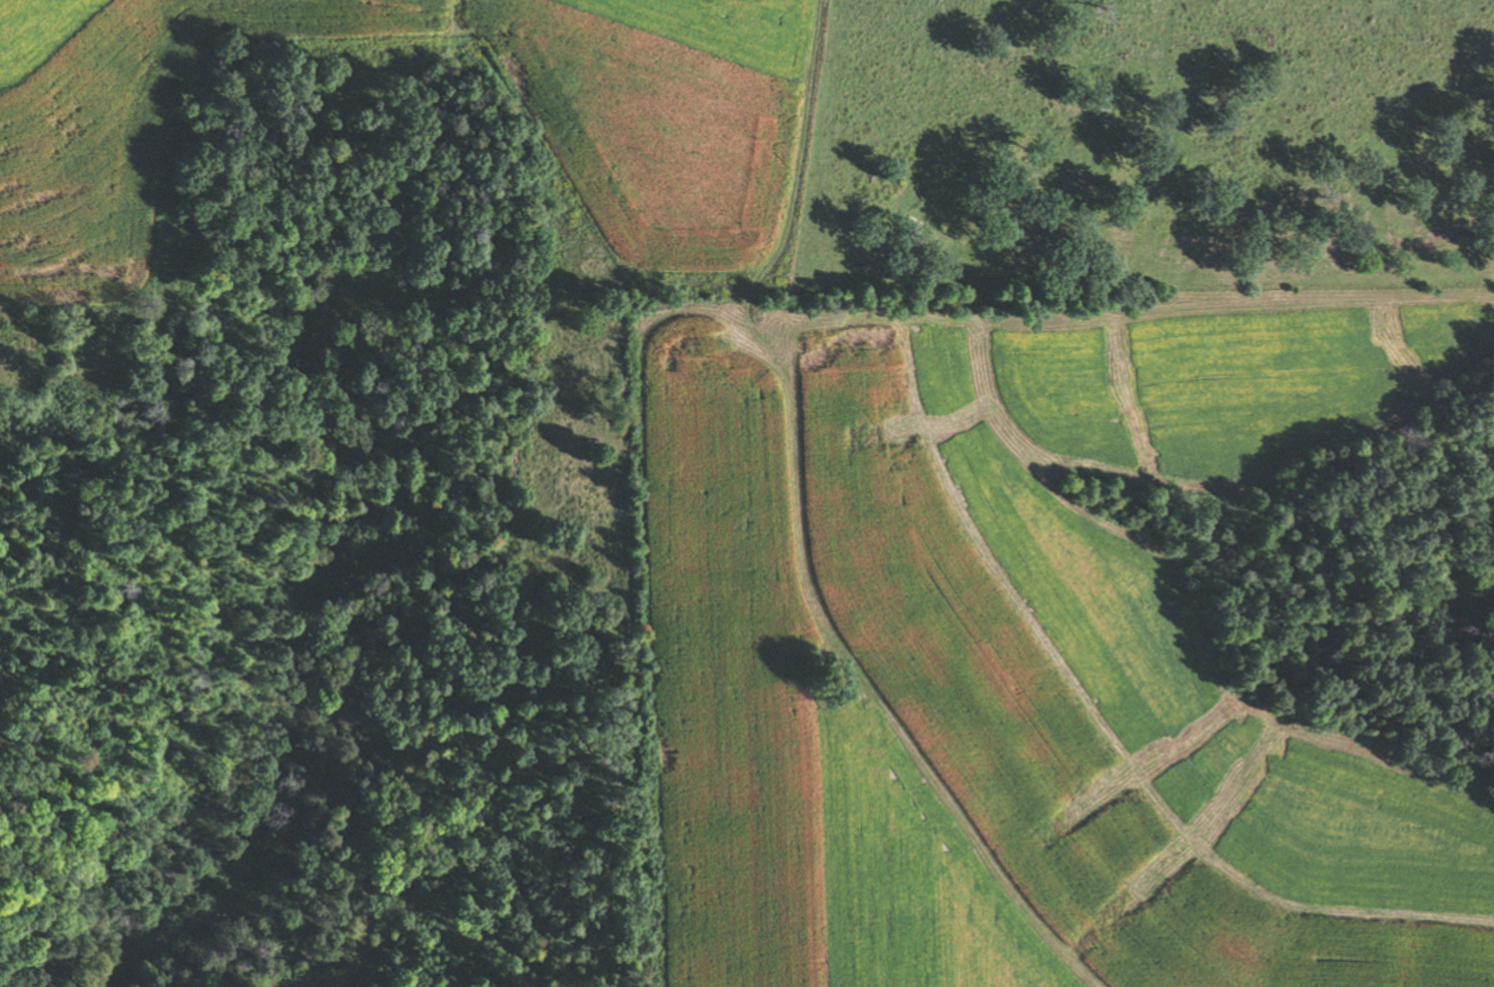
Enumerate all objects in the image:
crop: (664, 127)
crop: (1016, 633)
crop: (923, 887)

